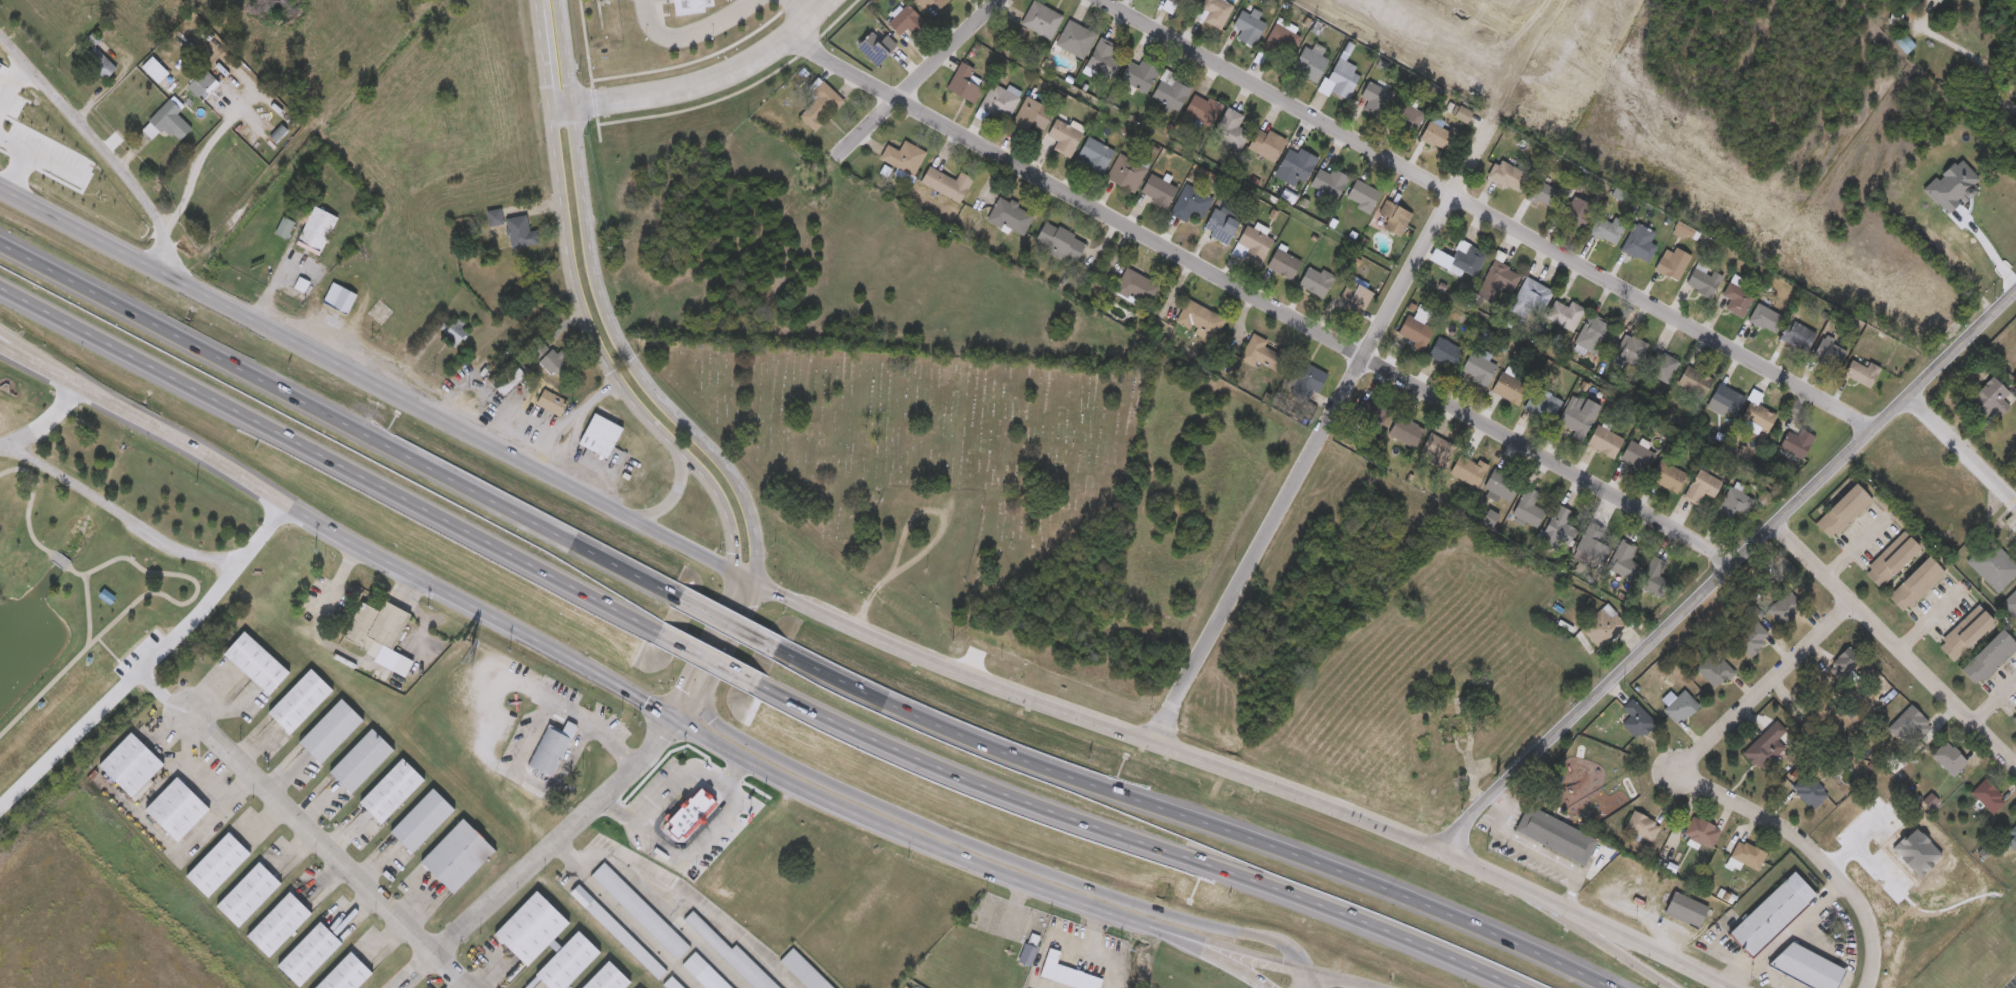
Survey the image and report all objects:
building: (1939, 1)
building: (929, 4)
building: (1175, 4)
building: (686, 8)
road: (793, 8)
building: (1213, 11)
building: (1040, 17)
building: (904, 19)
building: (1247, 24)
road: (690, 35)
building: (1073, 38)
building: (1279, 41)
building: (874, 43)
building: (1905, 45)
building: (1102, 57)
road: (1973, 59)
building: (1310, 60)
building: (100, 65)
building: (1137, 73)
building: (1339, 77)
road: (912, 78)
building: (962, 82)
road: (696, 83)
building: (203, 85)
road: (13, 87)
building: (1169, 90)
building: (1373, 96)
building: (997, 100)
building: (819, 103)
building: (1201, 108)
building: (1461, 112)
building: (1027, 114)
building: (1405, 116)
building: (168, 125)
building: (1230, 128)
building: (1062, 133)
building: (1435, 134)
building: (1265, 142)
road: (99, 145)
building: (1093, 153)
building: (902, 155)
road: (23, 159)
building: (1296, 161)
building: (1125, 169)
building: (1505, 173)
road: (200, 174)
building: (1328, 179)
building: (945, 182)
building: (1157, 187)
building: (1541, 191)
building: (1361, 193)
building: (1189, 201)
road: (1490, 209)
building: (1574, 209)
building: (1009, 214)
building: (1393, 215)
building: (495, 219)
building: (1218, 225)
building: (1607, 226)
building: (286, 230)
building: (317, 233)
building: (519, 233)
building: (1057, 240)
building: (1638, 240)
building: (1251, 242)
building: (1459, 257)
building: (1671, 260)
building: (1282, 262)
road: (275, 274)
building: (1702, 277)
building: (1313, 279)
building: (1135, 285)
building: (1354, 295)
road: (1261, 296)
building: (1736, 296)
building: (1529, 298)
building: (341, 300)
road: (601, 304)
road: (580, 311)
building: (1563, 312)
building: (1764, 316)
building: (1199, 318)
building: (2015, 323)
building: (1413, 328)
building: (1591, 332)
building: (457, 333)
building: (1796, 333)
building: (1629, 348)
building: (1444, 350)
building: (1827, 351)
building: (1260, 352)
building: (545, 356)
road: (34, 359)
road: (34, 364)
building: (1660, 364)
building: (1477, 366)
building: (1861, 370)
building: (1306, 374)
building: (506, 379)
building: (1693, 379)
building: (1508, 385)
building: (1725, 396)
building: (1987, 398)
building: (1543, 402)
building: (552, 404)
building: (1369, 413)
building: (1756, 413)
building: (1577, 414)
road: (337, 418)
road: (45, 424)
road: (570, 425)
building: (1404, 429)
road: (1318, 433)
building: (600, 437)
building: (1603, 439)
building: (1794, 441)
building: (1436, 447)
road: (1961, 447)
building: (1636, 454)
road: (324, 457)
building: (1466, 467)
park: (914, 471)
building: (1667, 473)
building: (1500, 481)
building: (1700, 483)
building: (1732, 501)
road: (672, 502)
building: (1527, 505)
building: (1841, 509)
road: (117, 514)
building: (1558, 522)
building: (1594, 541)
road: (938, 543)
building: (1620, 555)
building: (1892, 561)
building: (1991, 563)
road: (1725, 569)
building: (1651, 571)
road: (190, 579)
road: (742, 580)
building: (1917, 586)
building: (106, 597)
building: (2010, 602)
building: (1784, 603)
park: (74, 604)
road: (86, 613)
road: (719, 617)
building: (1601, 623)
building: (376, 628)
building: (1962, 631)
building: (1750, 635)
road: (1895, 639)
road: (726, 645)
road: (702, 646)
road: (699, 653)
building: (1986, 655)
building: (1841, 657)
road: (149, 660)
building: (256, 664)
building: (1712, 668)
parking lot: (563, 691)
road: (160, 696)
road: (685, 698)
road: (486, 701)
building: (300, 703)
building: (1678, 705)
parking lot: (601, 710)
road: (671, 714)
building: (1634, 717)
building: (2012, 717)
building: (1912, 720)
road: (599, 728)
parking lot: (620, 728)
building: (330, 732)
road: (534, 738)
building: (1767, 738)
parking lot: (519, 739)
building: (548, 754)
building: (1947, 756)
building: (361, 761)
building: (132, 765)
road: (691, 768)
road: (738, 771)
road: (561, 776)
road: (198, 777)
parking lot: (658, 787)
building: (1807, 789)
road: (1720, 790)
building: (391, 792)
building: (1986, 794)
building: (178, 810)
building: (690, 812)
road: (1500, 812)
road: (618, 813)
road: (1184, 817)
building: (422, 821)
building: (1640, 824)
parking lot: (721, 829)
building: (1698, 829)
building: (2011, 835)
building: (1554, 837)
road: (1129, 839)
road: (327, 851)
road: (998, 851)
building: (1745, 852)
road: (561, 854)
road: (541, 855)
building: (457, 857)
road: (1551, 863)
building: (216, 865)
building: (246, 895)
road: (687, 900)
building: (1684, 908)
building: (1770, 911)
building: (641, 913)
road: (1569, 915)
building: (2015, 921)
building: (277, 925)
road: (632, 925)
building: (531, 929)
road: (1781, 932)
building: (618, 934)
road: (1598, 938)
road: (1624, 938)
road: (1069, 941)
road: (1095, 951)
building: (308, 955)
building: (731, 955)
building: (1027, 956)
road: (1217, 956)
building: (567, 963)
road: (1750, 965)
building: (1807, 965)
building: (803, 971)
building: (703, 973)
building: (1066, 974)
building: (345, 975)
building: (607, 978)
road: (1303, 980)
road: (1313, 980)
road: (1340, 980)
building: (672, 984)

